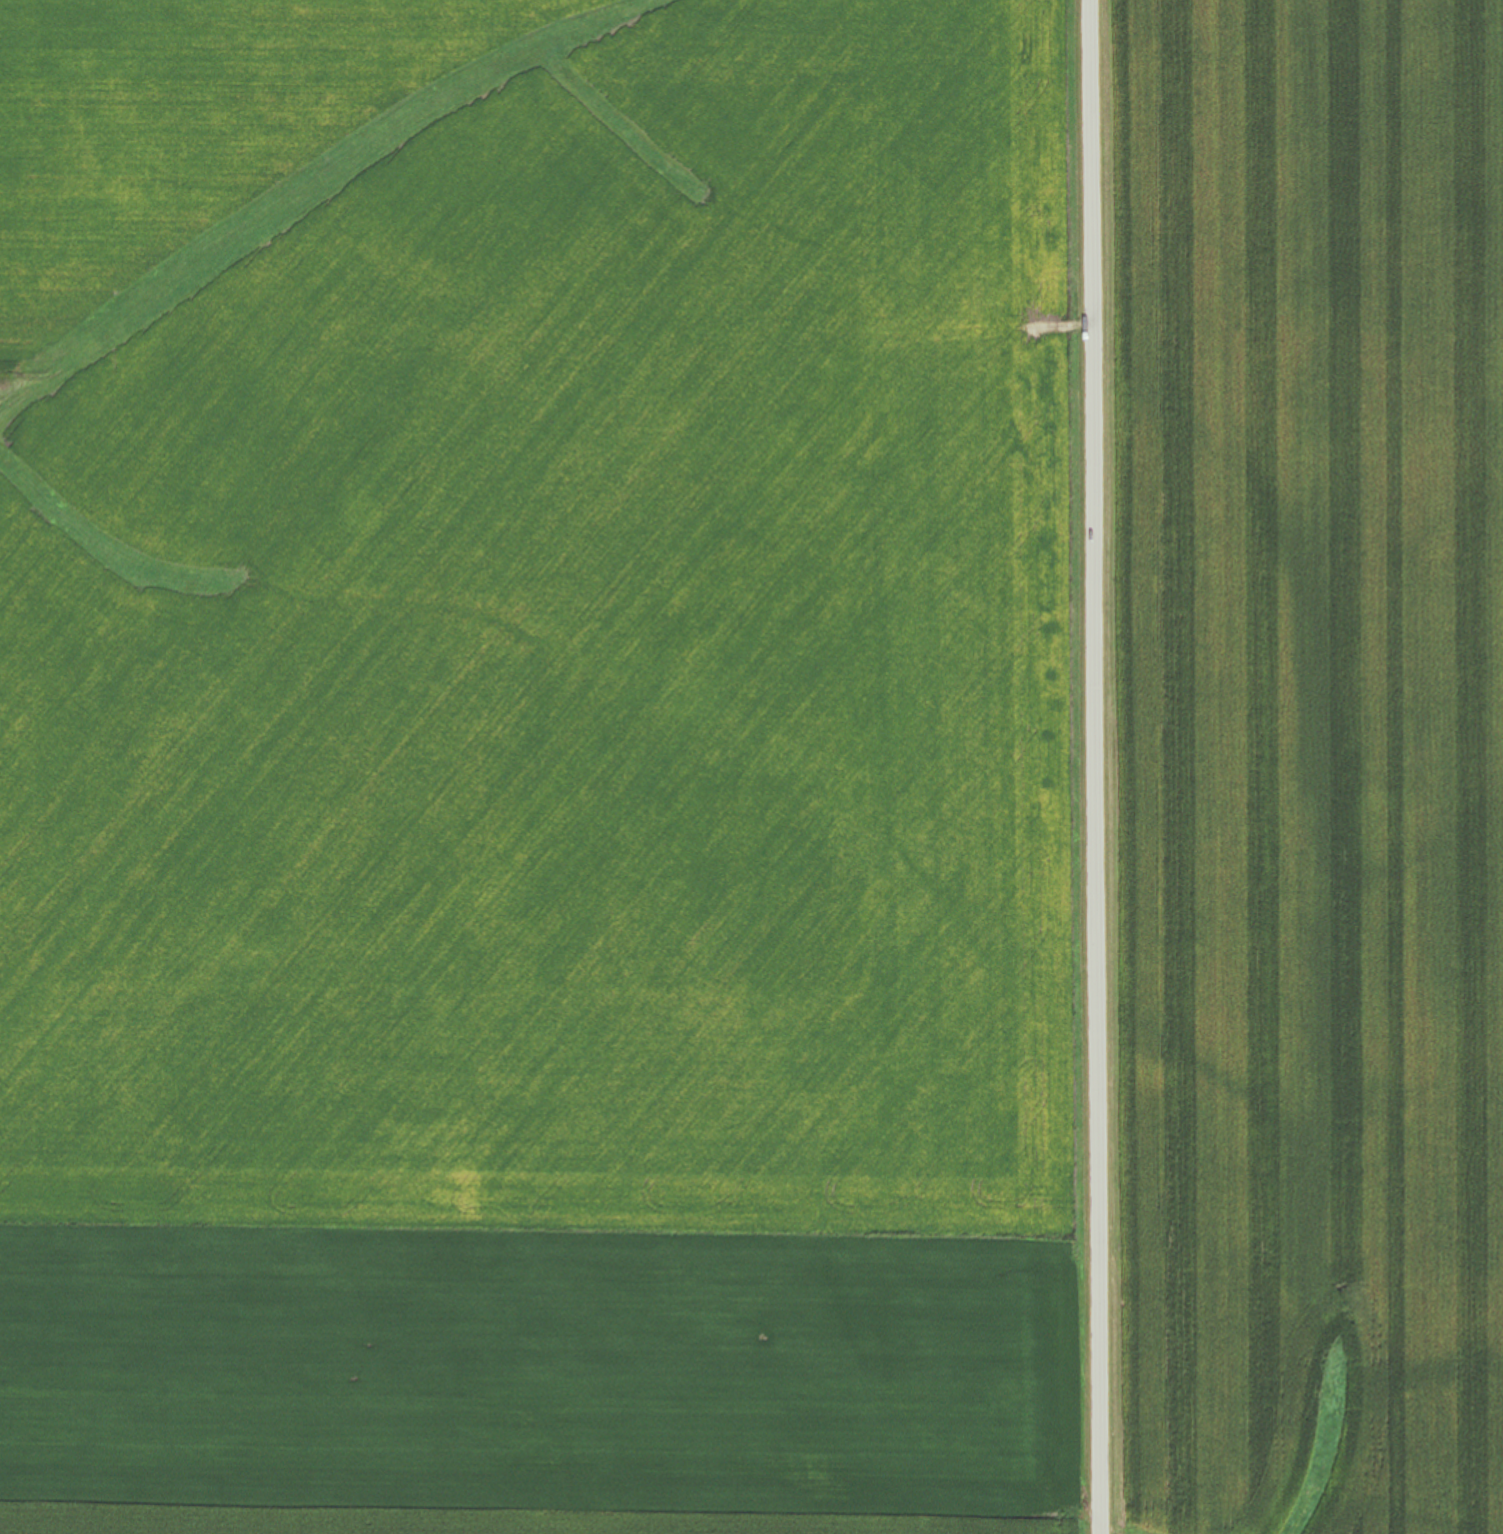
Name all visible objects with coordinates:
road: (1082, 767)

